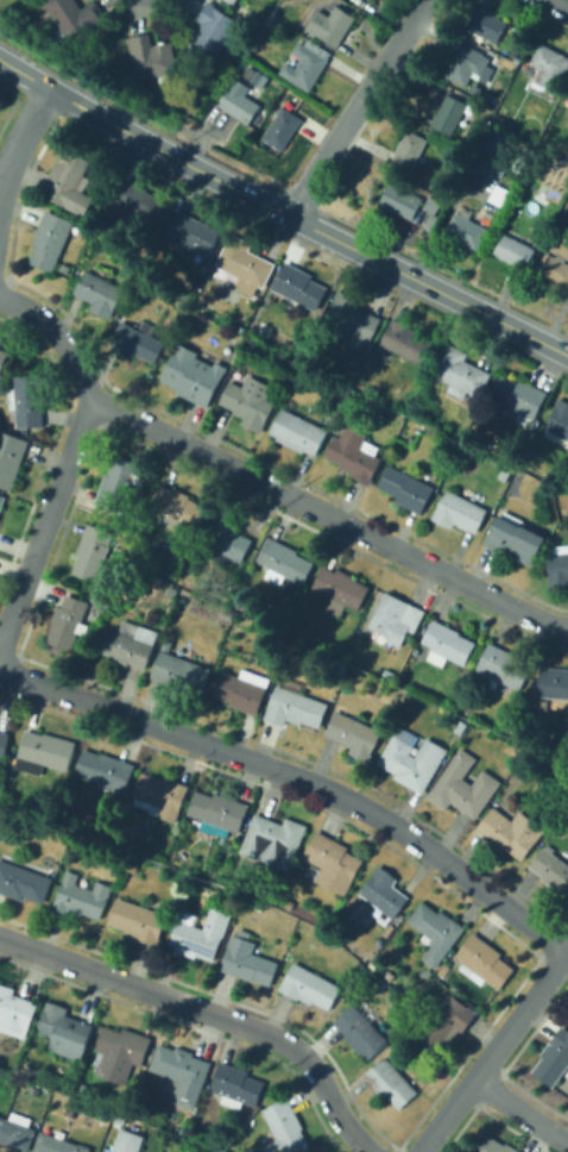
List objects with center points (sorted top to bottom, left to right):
building: (361, 0)
building: (231, 1)
road: (561, 2)
building: (74, 17)
building: (486, 24)
building: (330, 25)
building: (213, 32)
road: (96, 49)
building: (183, 50)
building: (152, 58)
building: (307, 64)
building: (471, 65)
building: (547, 70)
building: (507, 75)
building: (487, 95)
building: (567, 95)
building: (240, 105)
road: (355, 106)
building: (448, 114)
building: (504, 120)
building: (517, 120)
building: (282, 127)
road: (21, 137)
building: (409, 151)
building: (485, 163)
building: (70, 182)
building: (438, 183)
building: (402, 200)
building: (133, 204)
building: (431, 205)
road: (282, 211)
building: (467, 230)
building: (190, 233)
building: (50, 239)
building: (515, 251)
building: (244, 265)
building: (554, 268)
building: (299, 287)
building: (99, 293)
building: (353, 320)
building: (140, 340)
building: (406, 342)
building: (302, 350)
building: (2, 358)
building: (460, 372)
building: (193, 376)
building: (519, 395)
building: (29, 400)
building: (247, 405)
building: (390, 411)
building: (558, 419)
building: (297, 432)
building: (354, 453)
building: (11, 458)
building: (404, 458)
road: (264, 483)
building: (121, 484)
building: (406, 489)
building: (2, 501)
building: (179, 506)
building: (459, 512)
road: (45, 515)
building: (225, 540)
building: (516, 540)
building: (96, 553)
building: (284, 562)
building: (558, 568)
building: (341, 589)
building: (172, 591)
building: (393, 618)
building: (72, 621)
building: (447, 644)
building: (130, 646)
building: (339, 665)
building: (501, 668)
building: (179, 671)
building: (554, 684)
building: (242, 690)
building: (295, 706)
building: (354, 735)
building: (455, 735)
building: (4, 744)
building: (522, 750)
building: (45, 752)
building: (412, 758)
building: (106, 770)
road: (292, 784)
building: (463, 785)
building: (160, 795)
building: (217, 812)
building: (511, 832)
building: (273, 840)
building: (332, 863)
building: (553, 871)
building: (23, 882)
building: (385, 891)
building: (271, 894)
building: (81, 896)
building: (289, 903)
building: (138, 921)
building: (436, 931)
building: (194, 938)
building: (247, 959)
building: (482, 962)
building: (373, 964)
building: (443, 970)
building: (425, 972)
building: (389, 976)
building: (310, 987)
building: (14, 1012)
road: (206, 1015)
building: (444, 1025)
building: (64, 1029)
building: (360, 1032)
road: (496, 1050)
building: (120, 1053)
building: (554, 1058)
building: (33, 1071)
building: (182, 1072)
building: (391, 1084)
building: (236, 1087)
road: (520, 1113)
building: (118, 1116)
building: (285, 1128)
building: (14, 1132)
building: (184, 1132)
building: (206, 1137)
building: (239, 1139)
building: (125, 1140)
building: (53, 1144)
building: (494, 1146)
building: (179, 1151)
building: (184, 1151)

